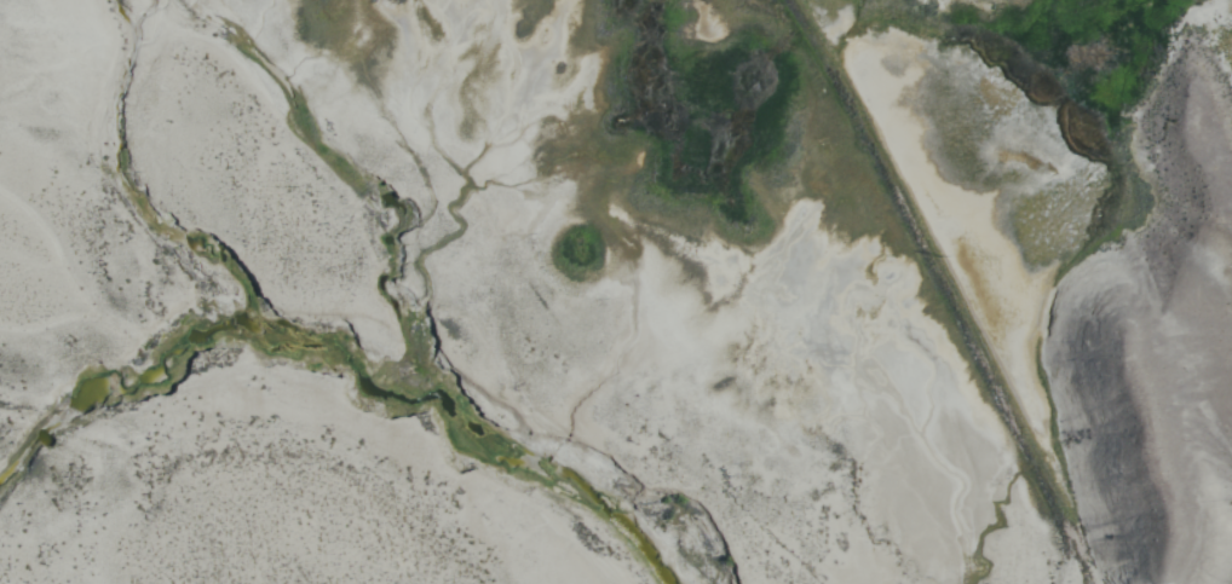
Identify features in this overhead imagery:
river: (372, 353)
river: (116, 376)

